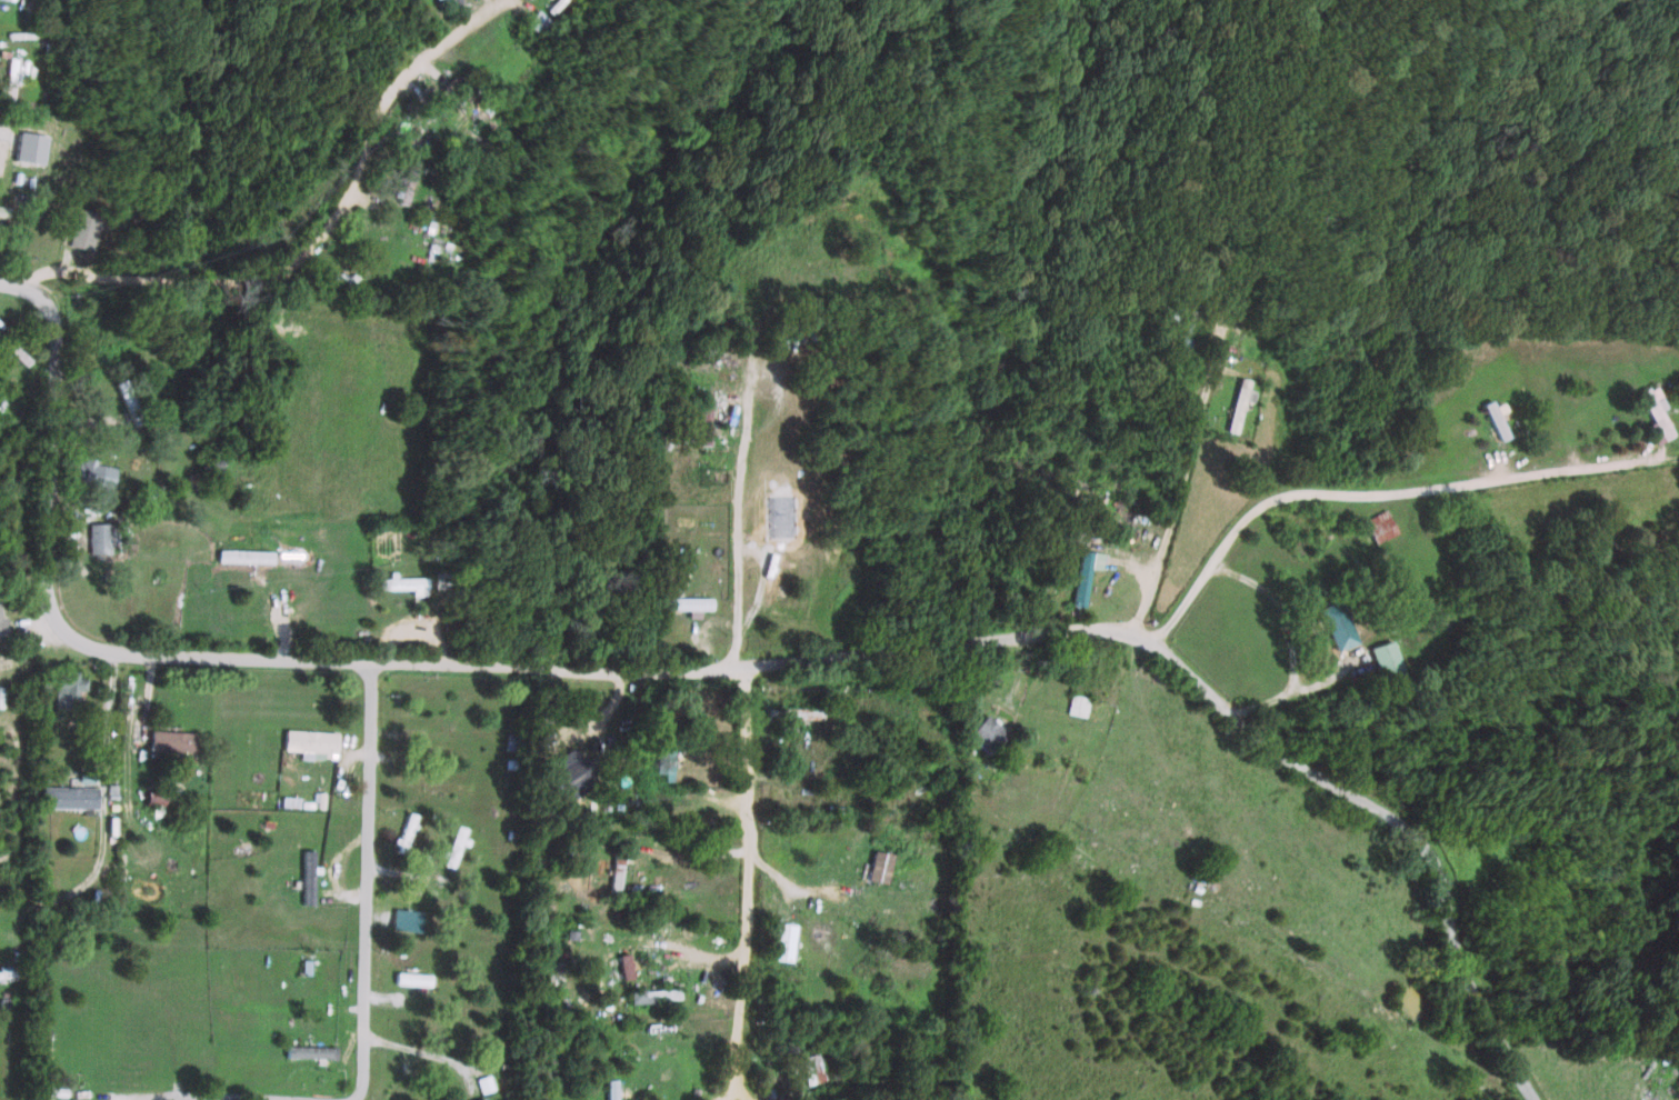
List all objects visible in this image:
building: (534, 21)
building: (12, 71)
building: (1, 147)
building: (403, 180)
road: (326, 219)
building: (80, 229)
road: (26, 290)
building: (1233, 403)
road: (50, 410)
building: (1652, 417)
building: (700, 418)
building: (1491, 418)
building: (89, 471)
road: (1176, 482)
road: (1377, 493)
road: (730, 508)
building: (1375, 526)
building: (1069, 537)
building: (242, 556)
building: (1080, 573)
building: (772, 576)
building: (398, 582)
building: (682, 603)
building: (2, 624)
building: (1331, 626)
road: (863, 649)
building: (1381, 660)
building: (67, 688)
road: (1288, 696)
building: (1076, 704)
building: (987, 733)
building: (170, 741)
building: (310, 743)
building: (662, 760)
building: (557, 776)
building: (69, 797)
building: (404, 832)
building: (453, 844)
building: (879, 864)
building: (616, 871)
building: (307, 877)
road: (750, 882)
road: (1087, 902)
road: (792, 910)
building: (406, 920)
building: (783, 940)
road: (369, 968)
building: (654, 993)
road: (177, 1033)
building: (310, 1050)
building: (811, 1068)
building: (487, 1082)
building: (612, 1089)
road: (344, 1098)
building: (68, 1099)
building: (481, 1099)

